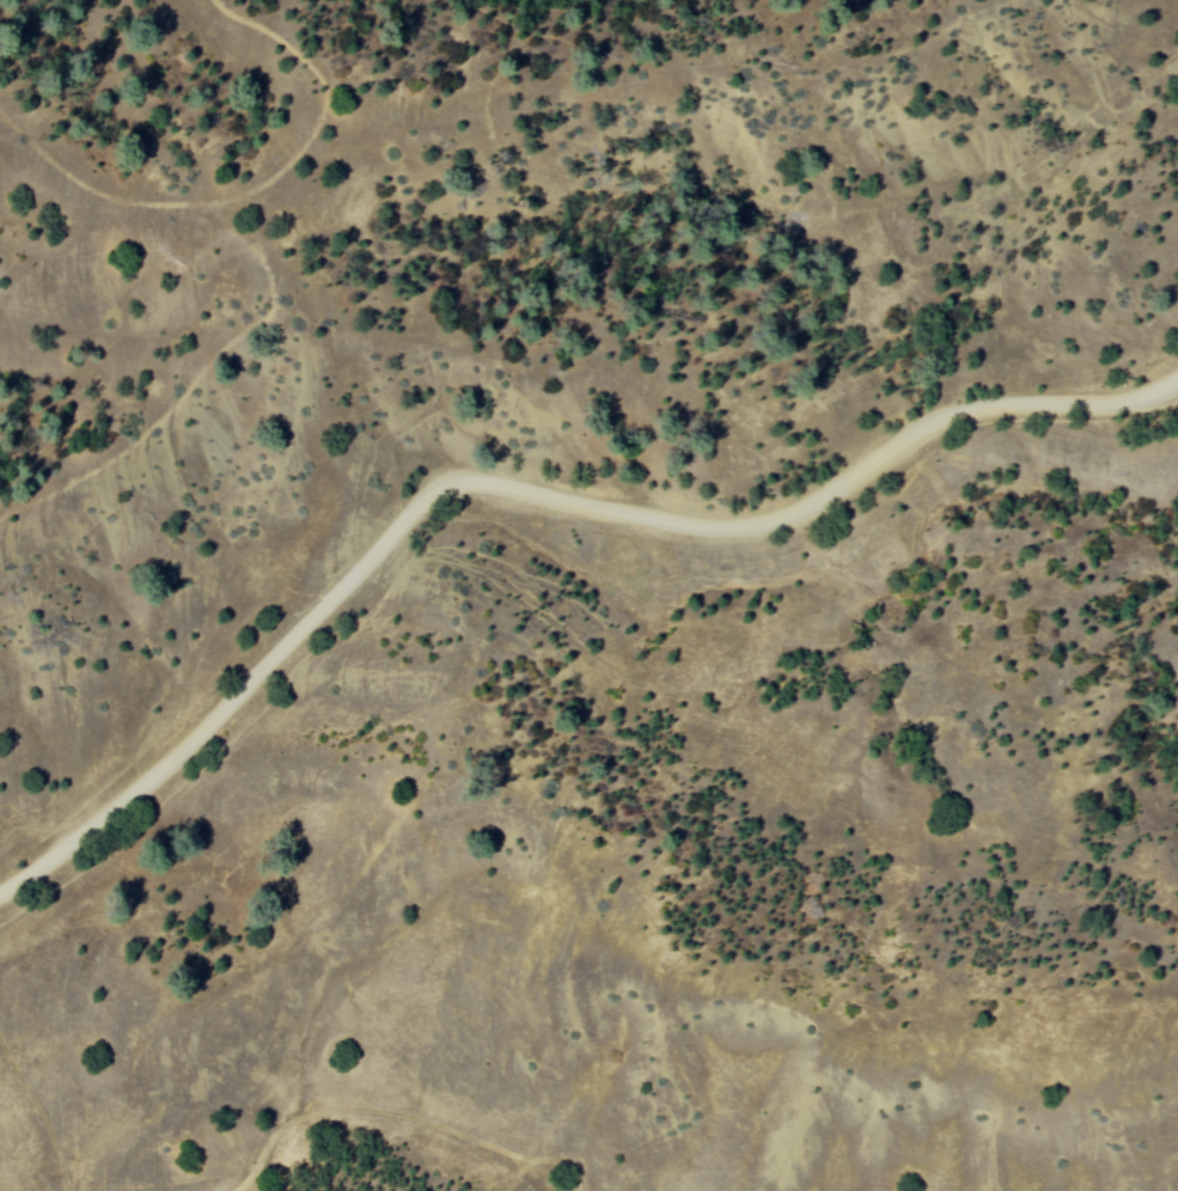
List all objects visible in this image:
road: (526, 484)

